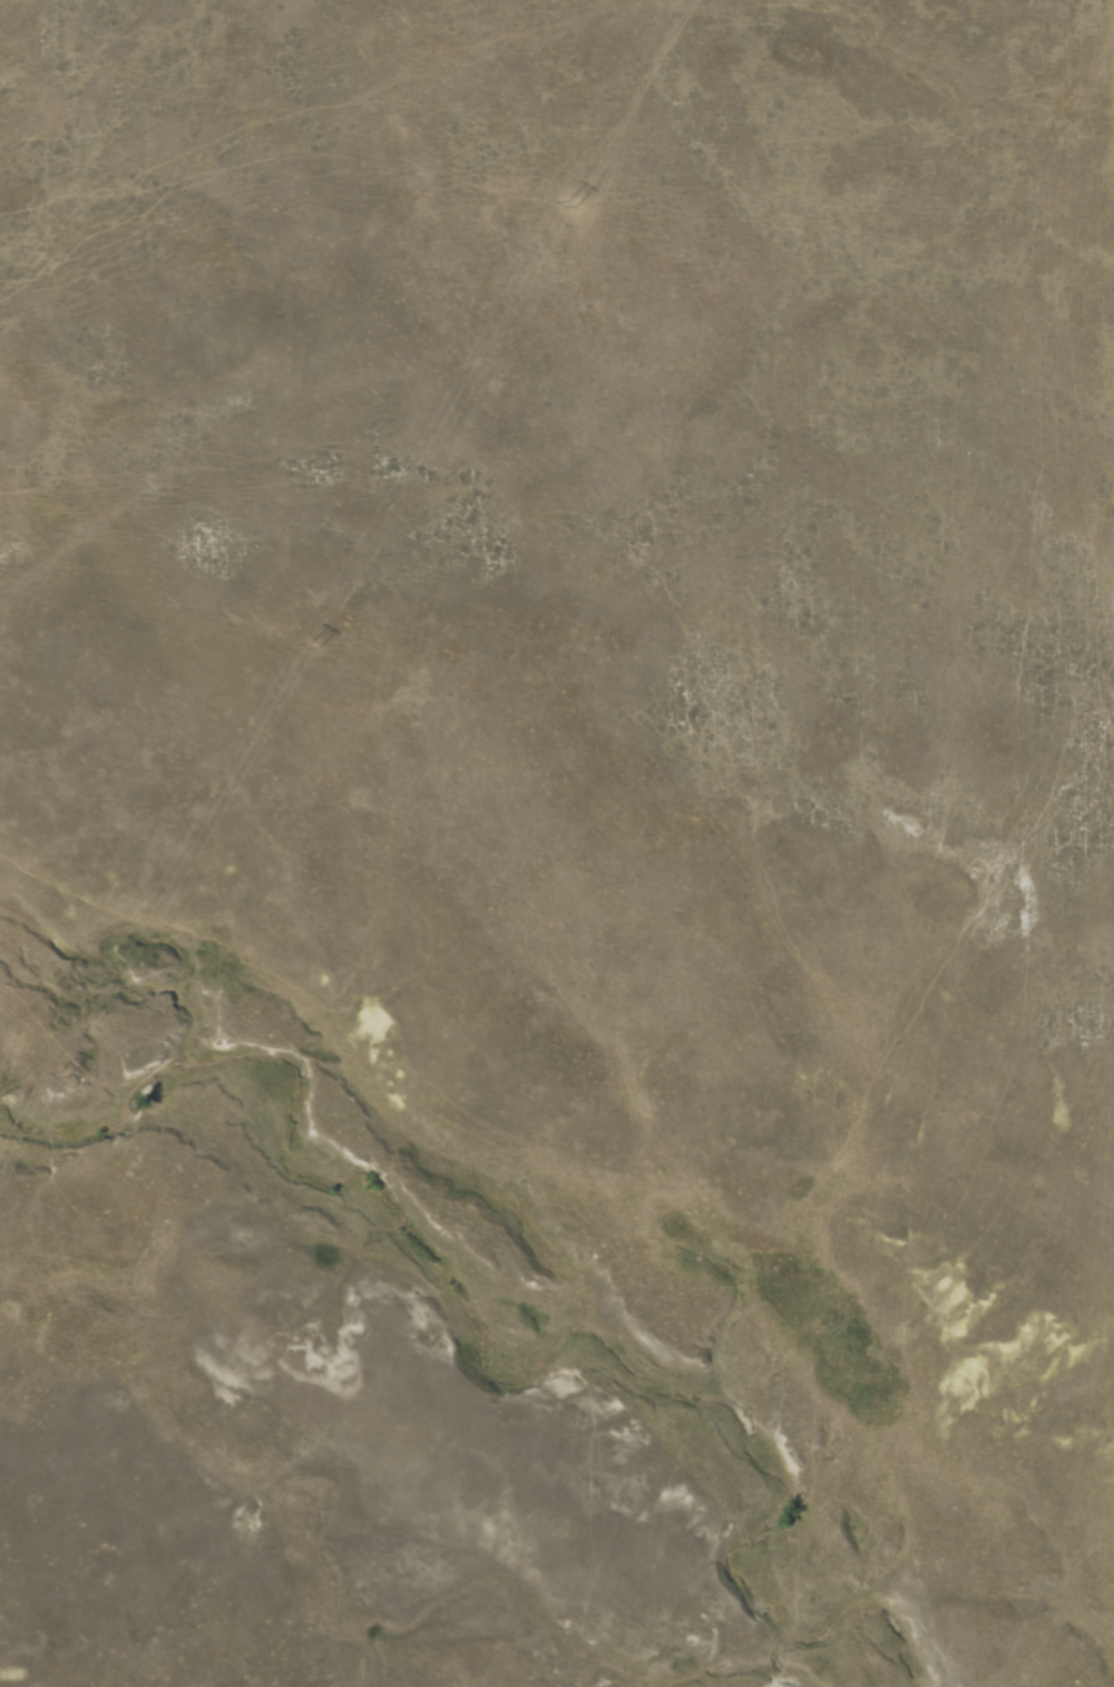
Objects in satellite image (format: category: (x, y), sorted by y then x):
power tower: (571, 203)
power tower: (314, 645)
power tower: (60, 1072)

